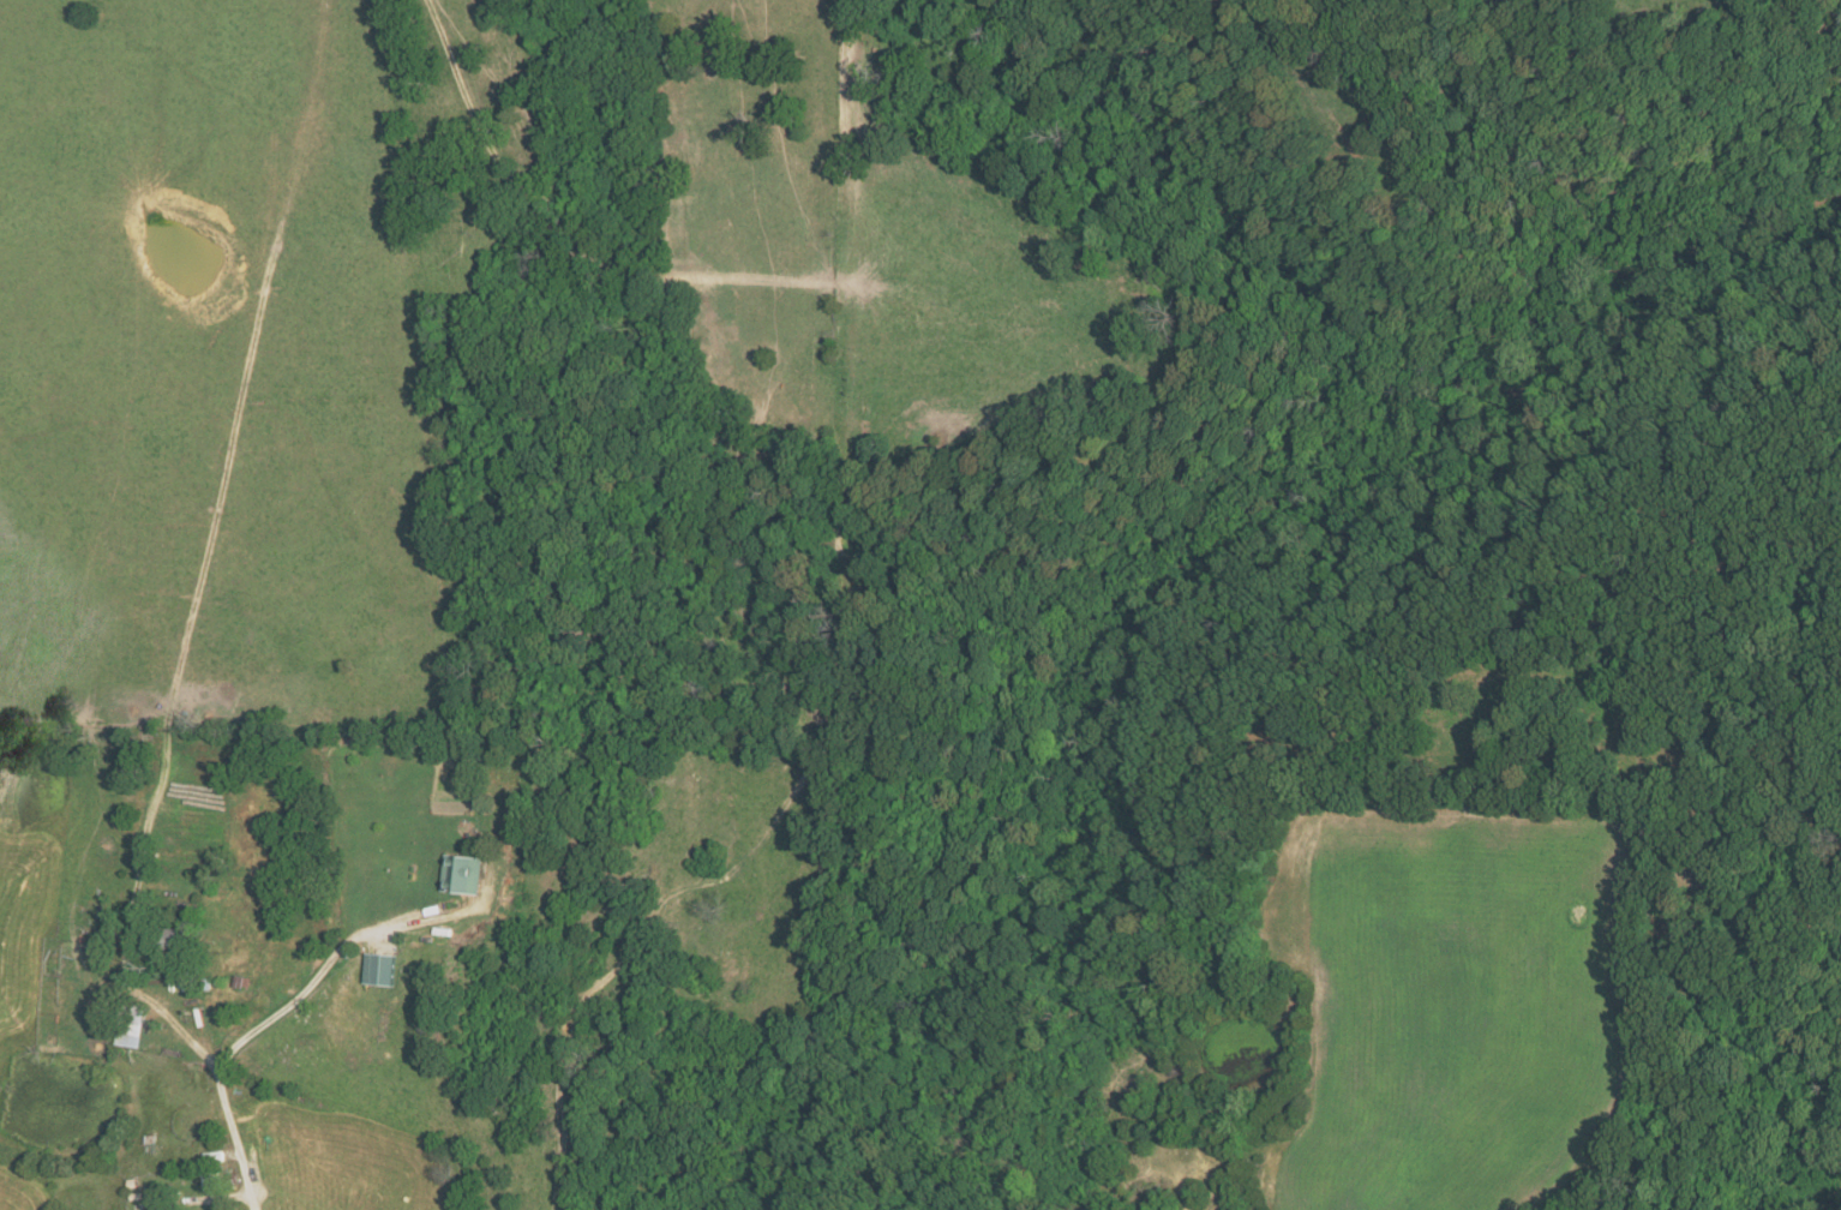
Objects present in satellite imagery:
building: (466, 874)
building: (170, 942)
building: (382, 970)
building: (130, 1025)
road: (230, 1110)

